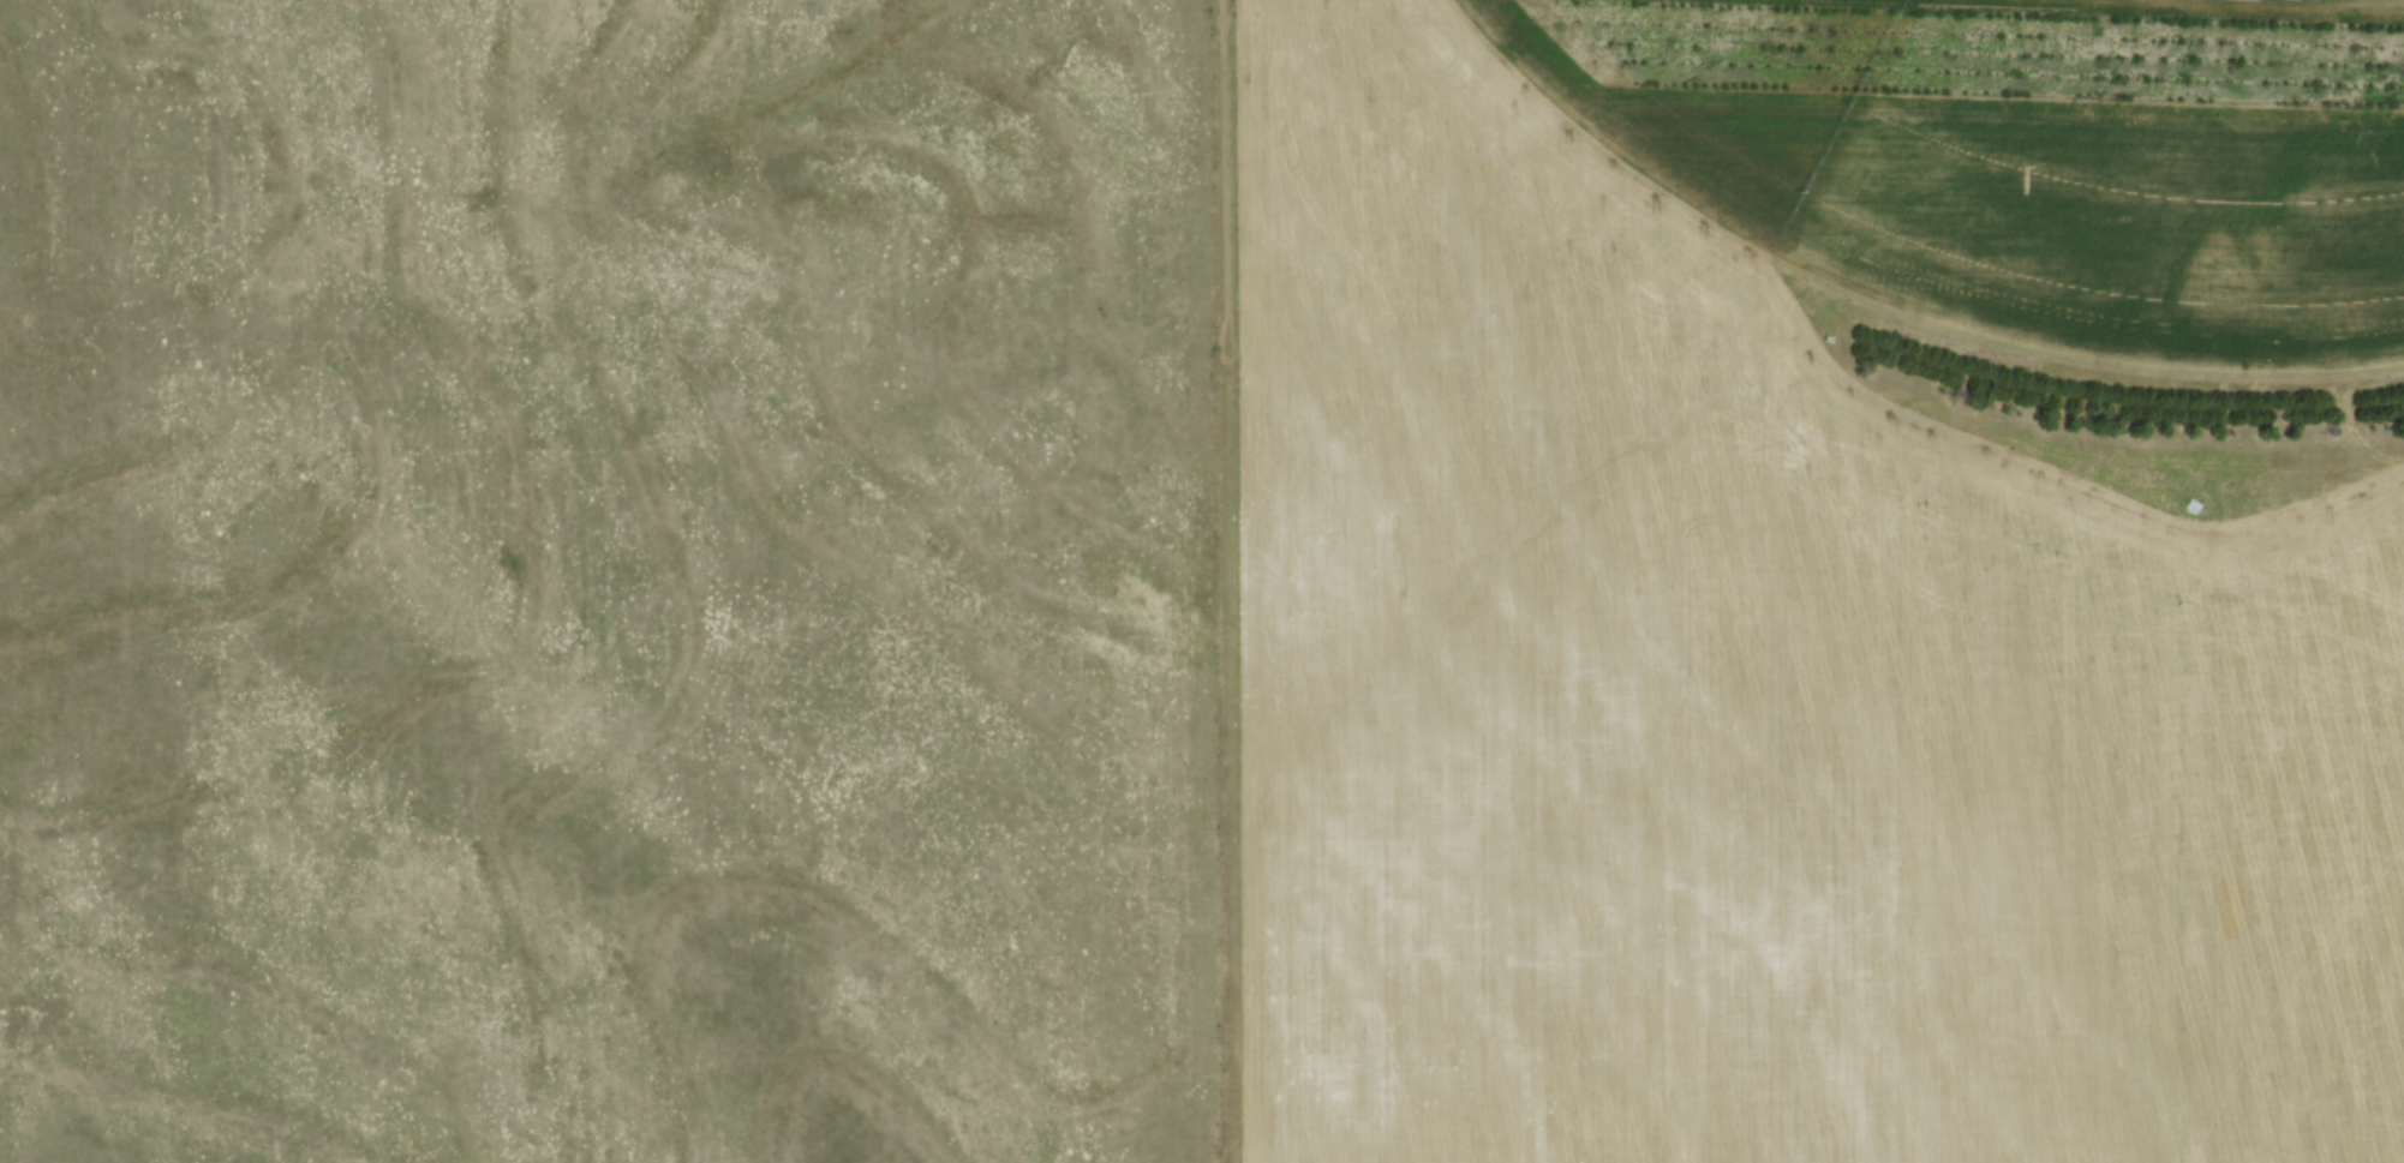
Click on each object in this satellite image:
crop: (1798, 595)

